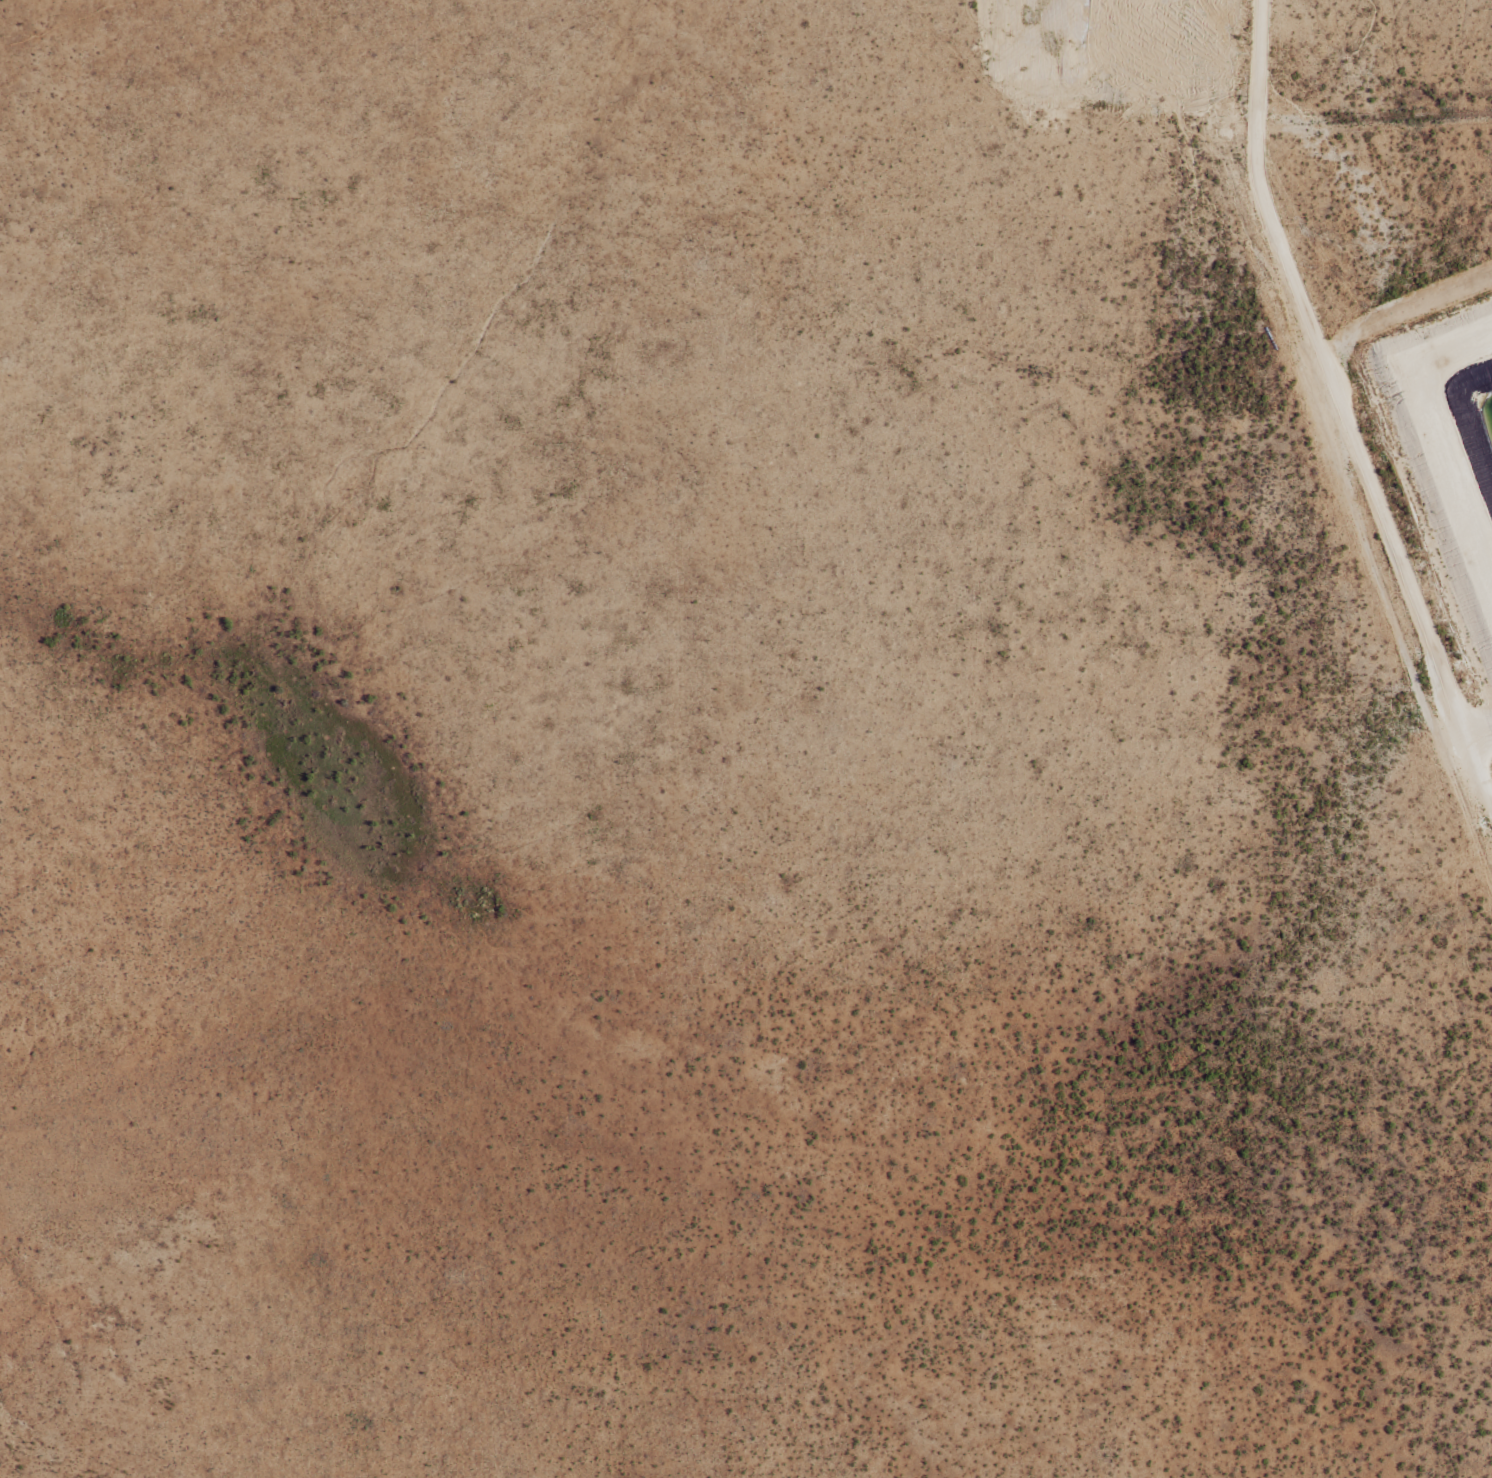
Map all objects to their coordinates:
road: (1339, 399)
road: (1483, 733)

